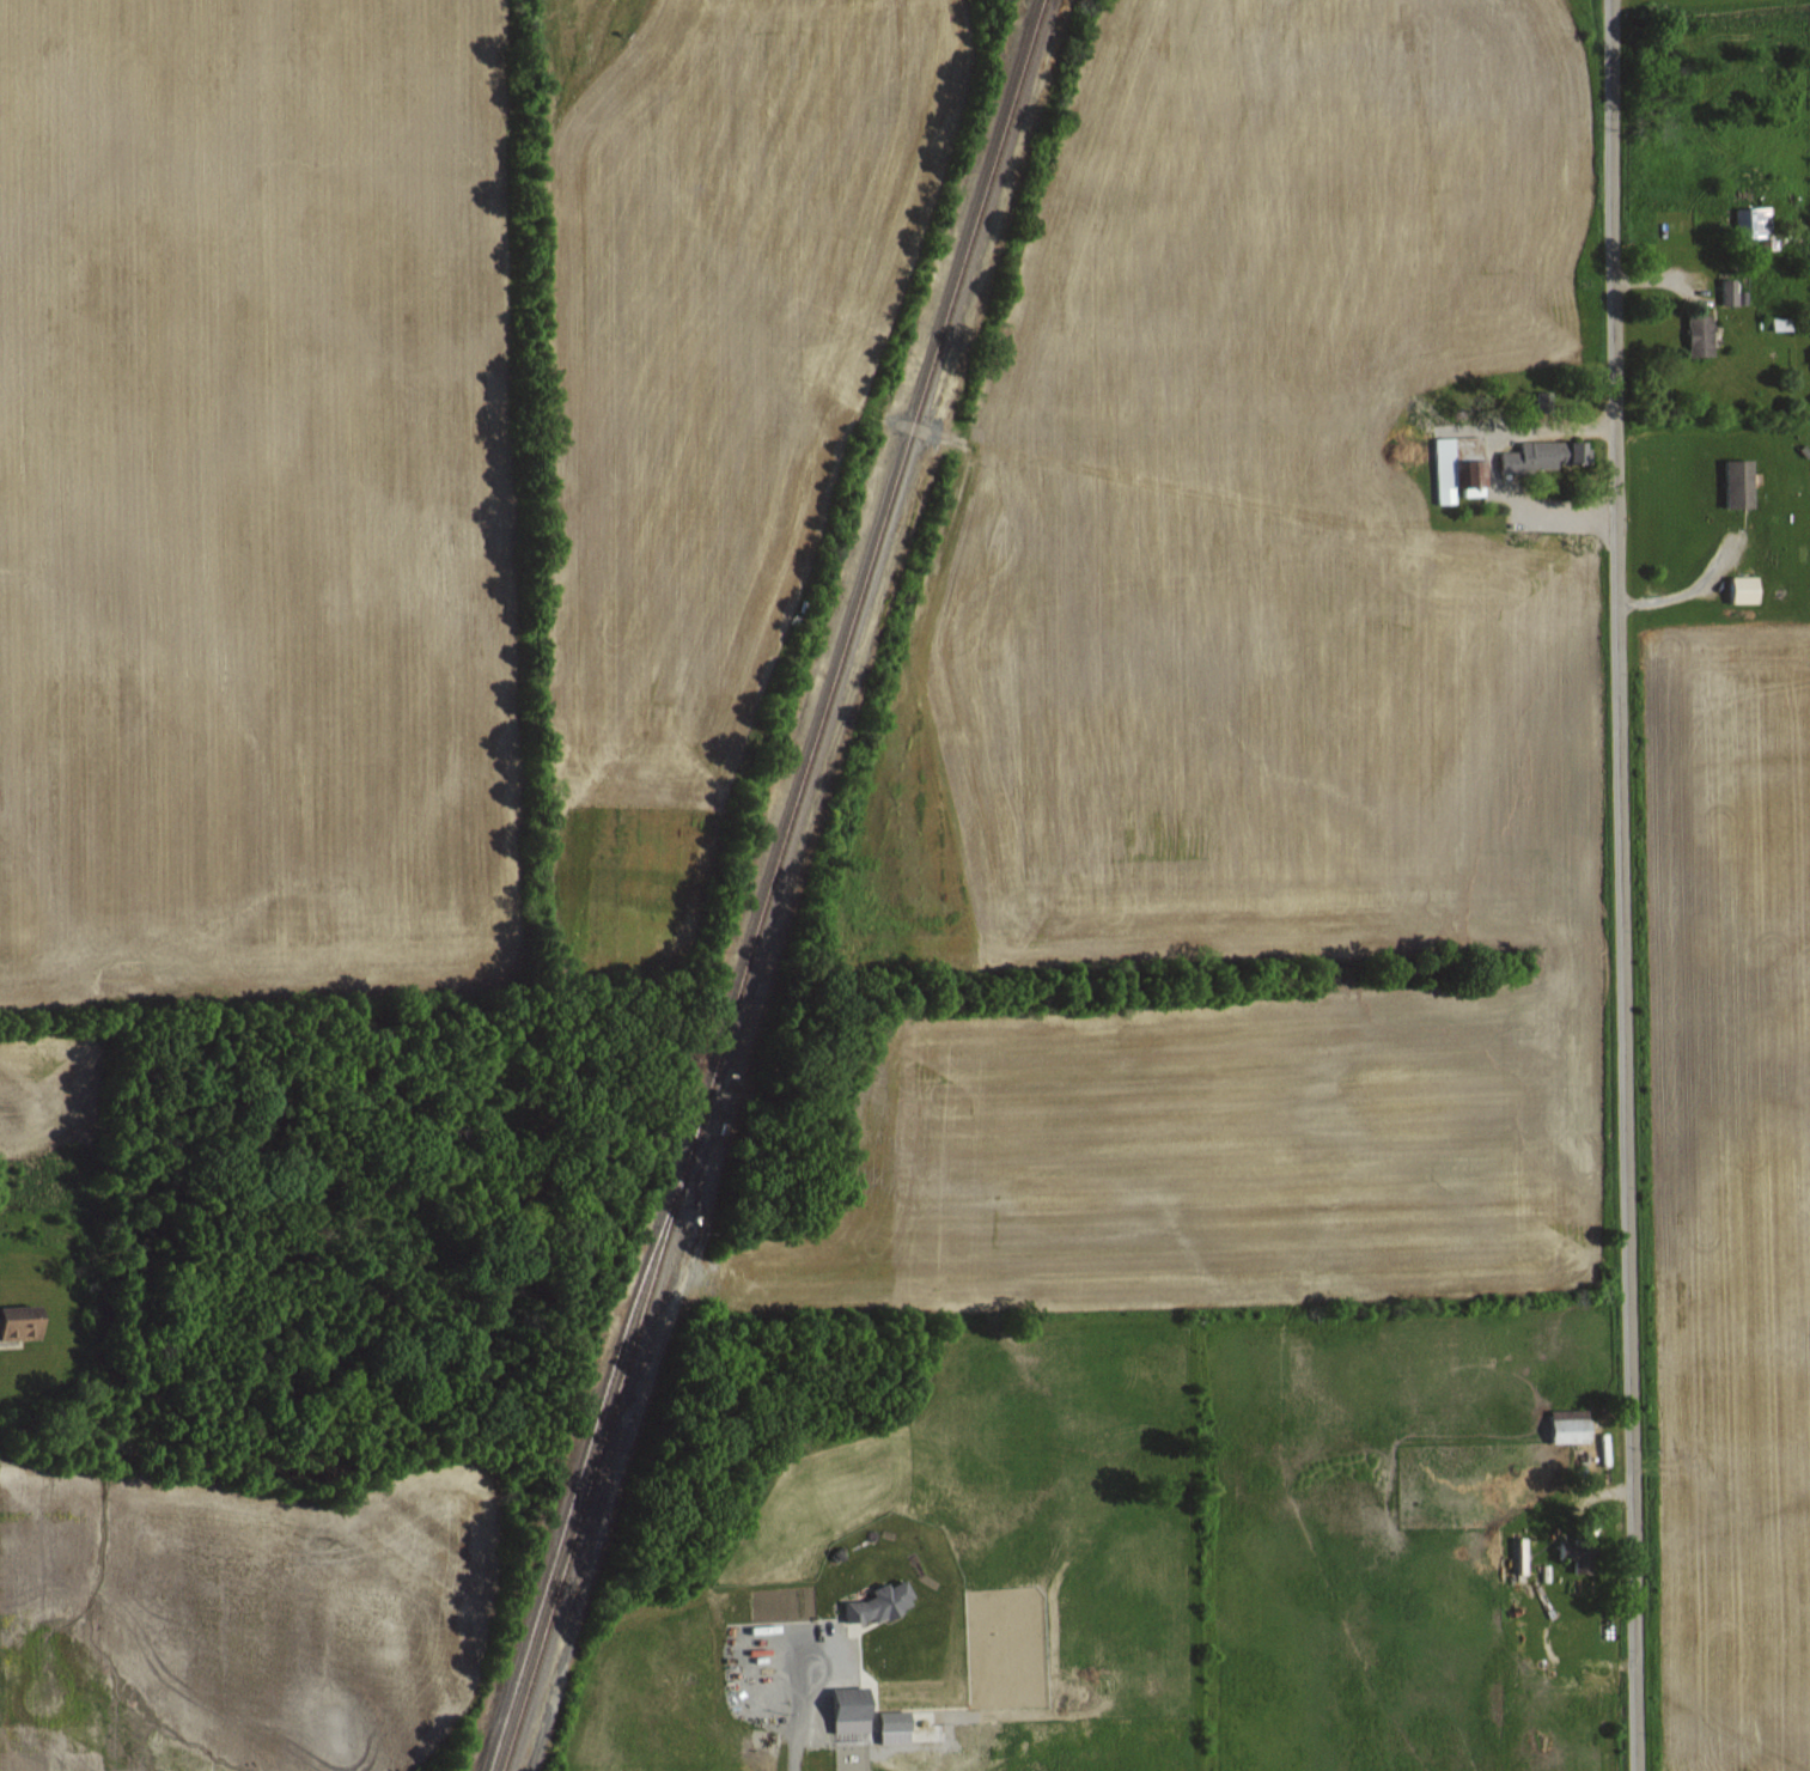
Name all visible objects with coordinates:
building: (1753, 220)
building: (1731, 292)
building: (1700, 334)
building: (1549, 454)
building: (1457, 463)
building: (1741, 482)
building: (1747, 589)
road: (1688, 590)
railway: (762, 885)
road: (1621, 885)
building: (22, 1320)
building: (1570, 1424)
building: (1576, 1552)
building: (880, 1601)
building: (853, 1709)
road: (794, 1724)
building: (894, 1726)

